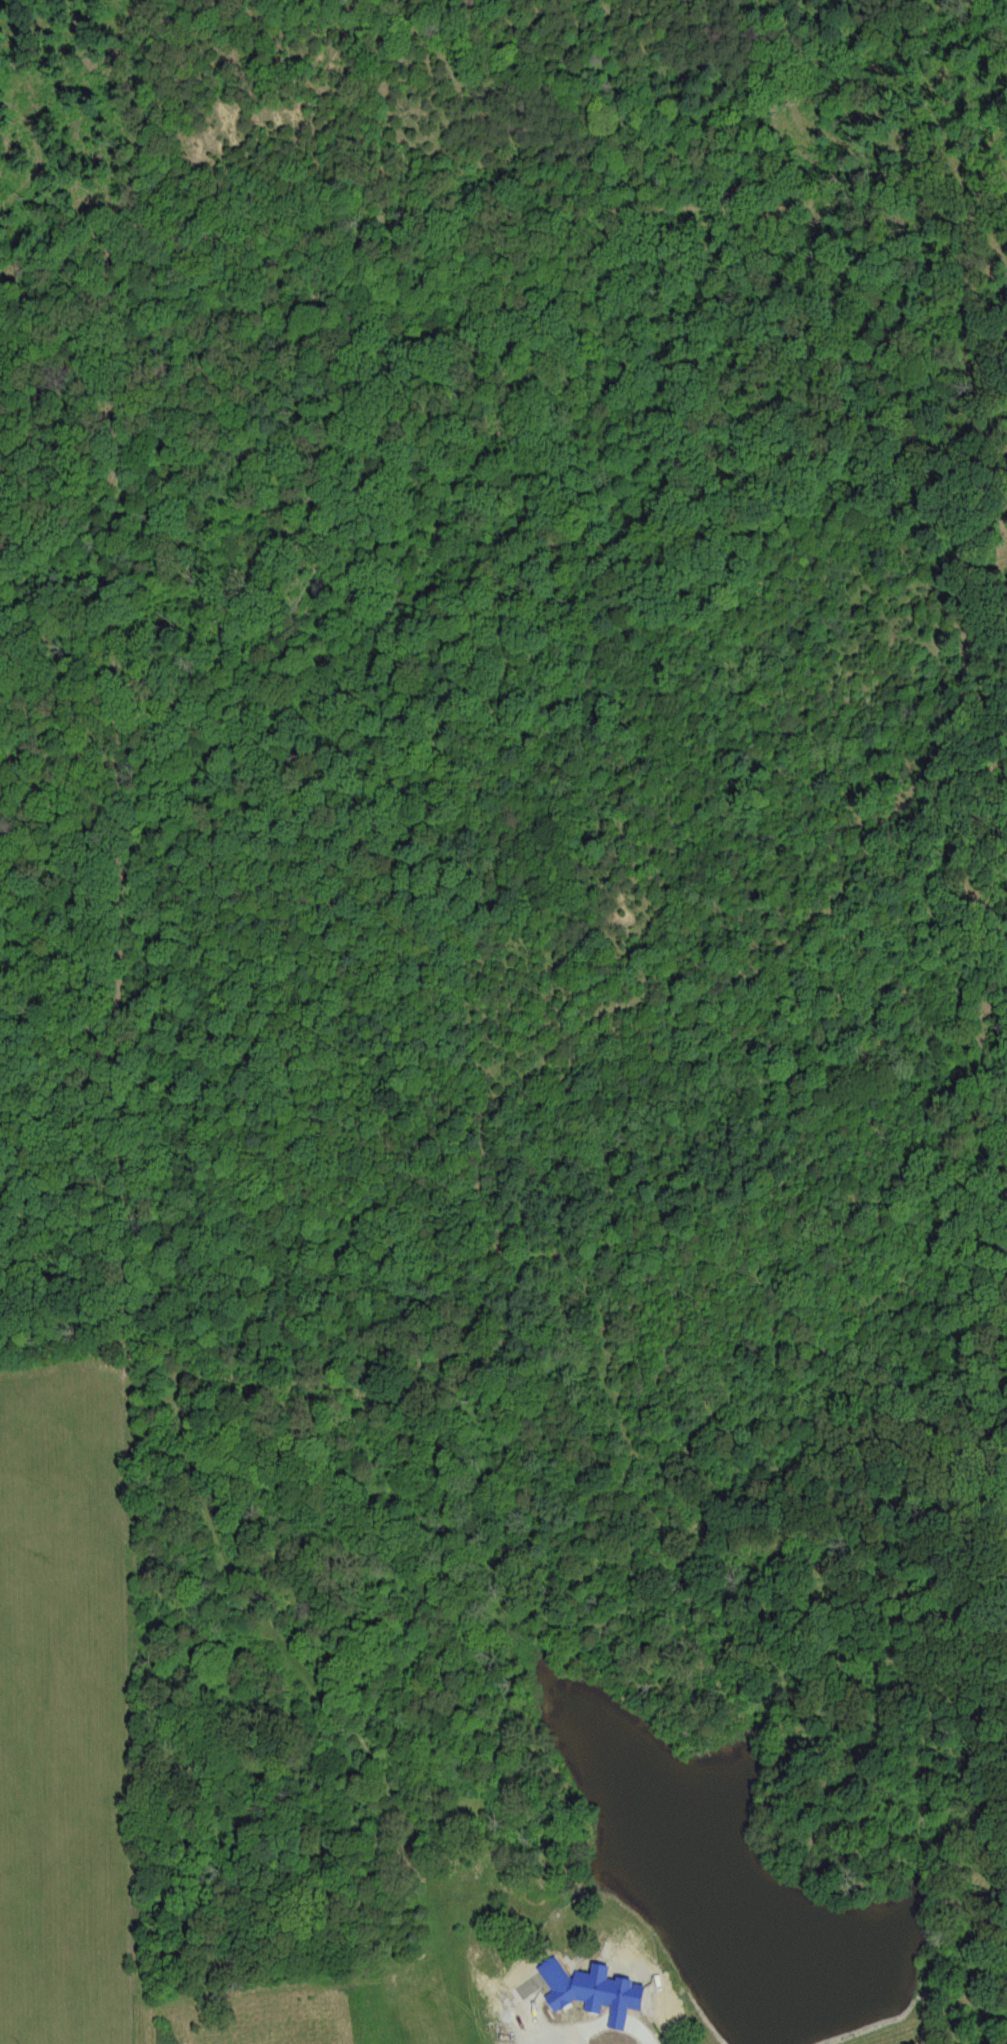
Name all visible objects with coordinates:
building: (593, 1989)

